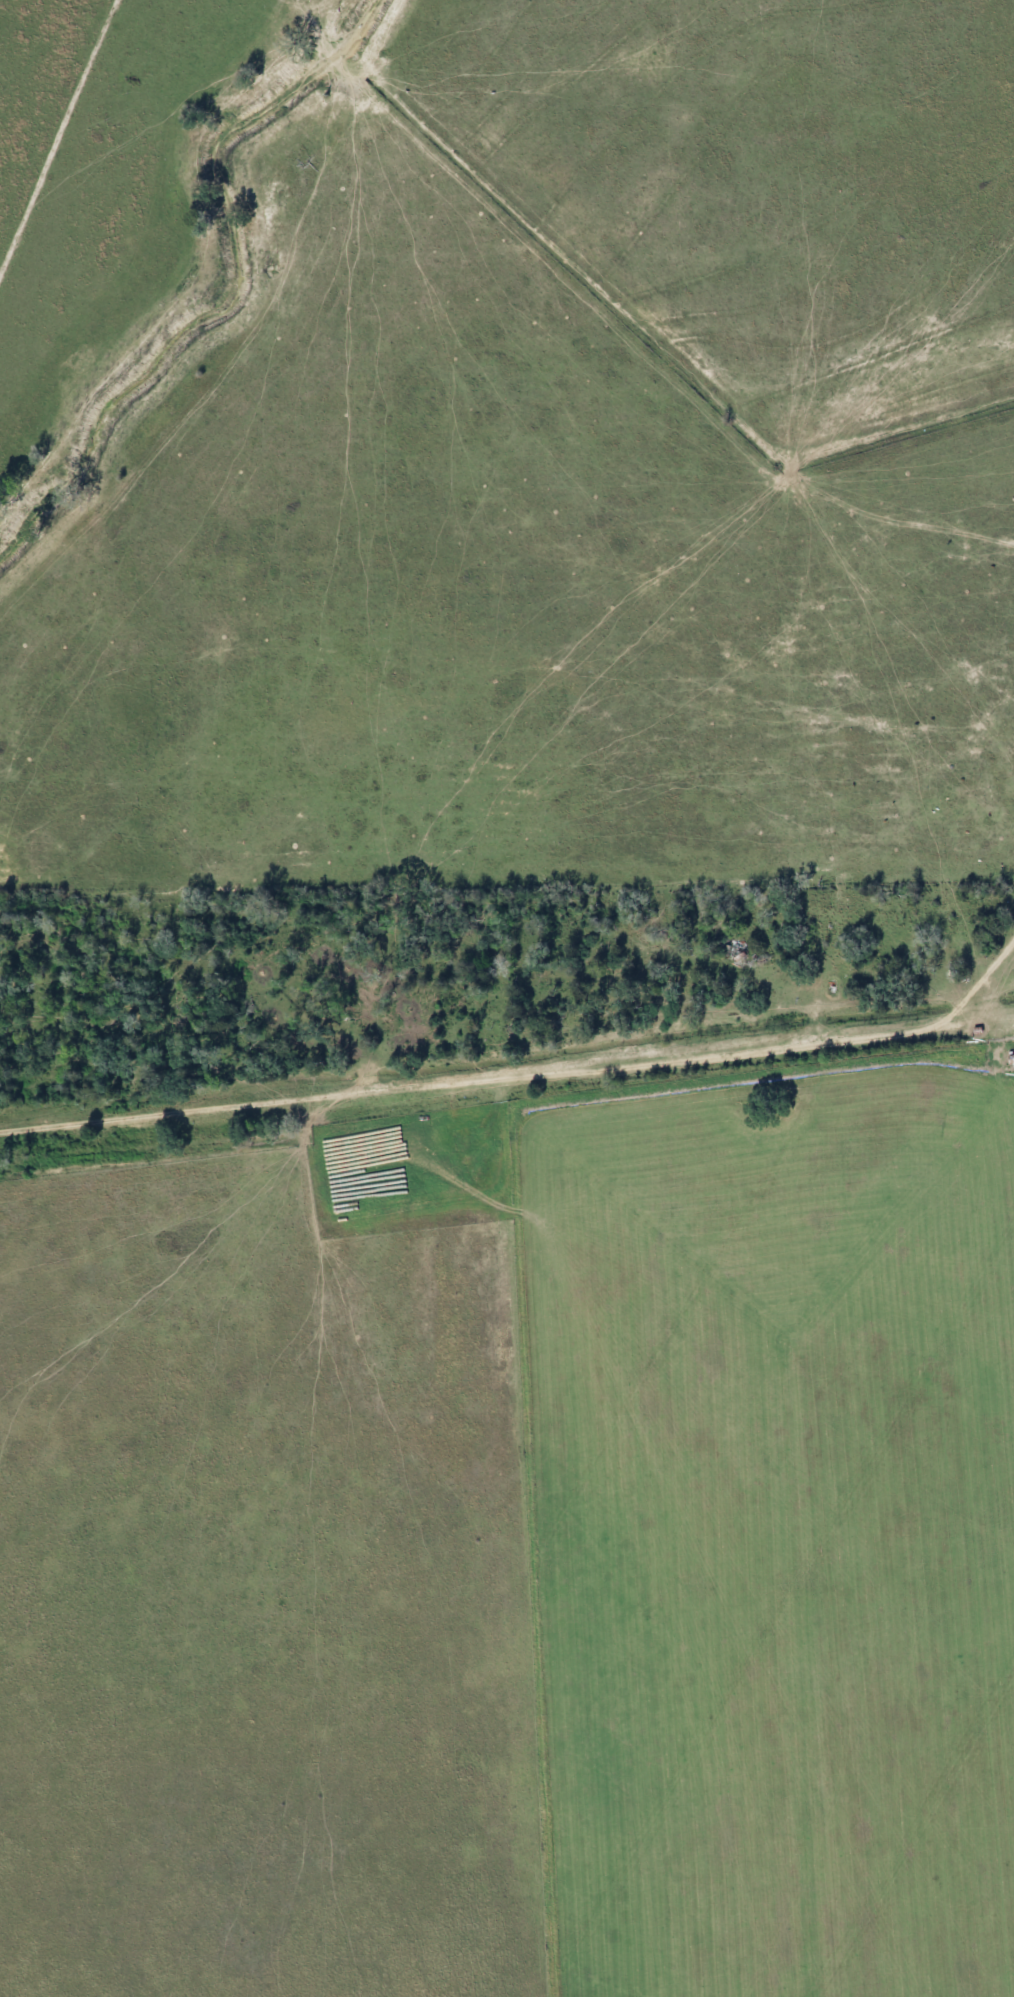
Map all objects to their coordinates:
road: (977, 978)
road: (506, 1079)

